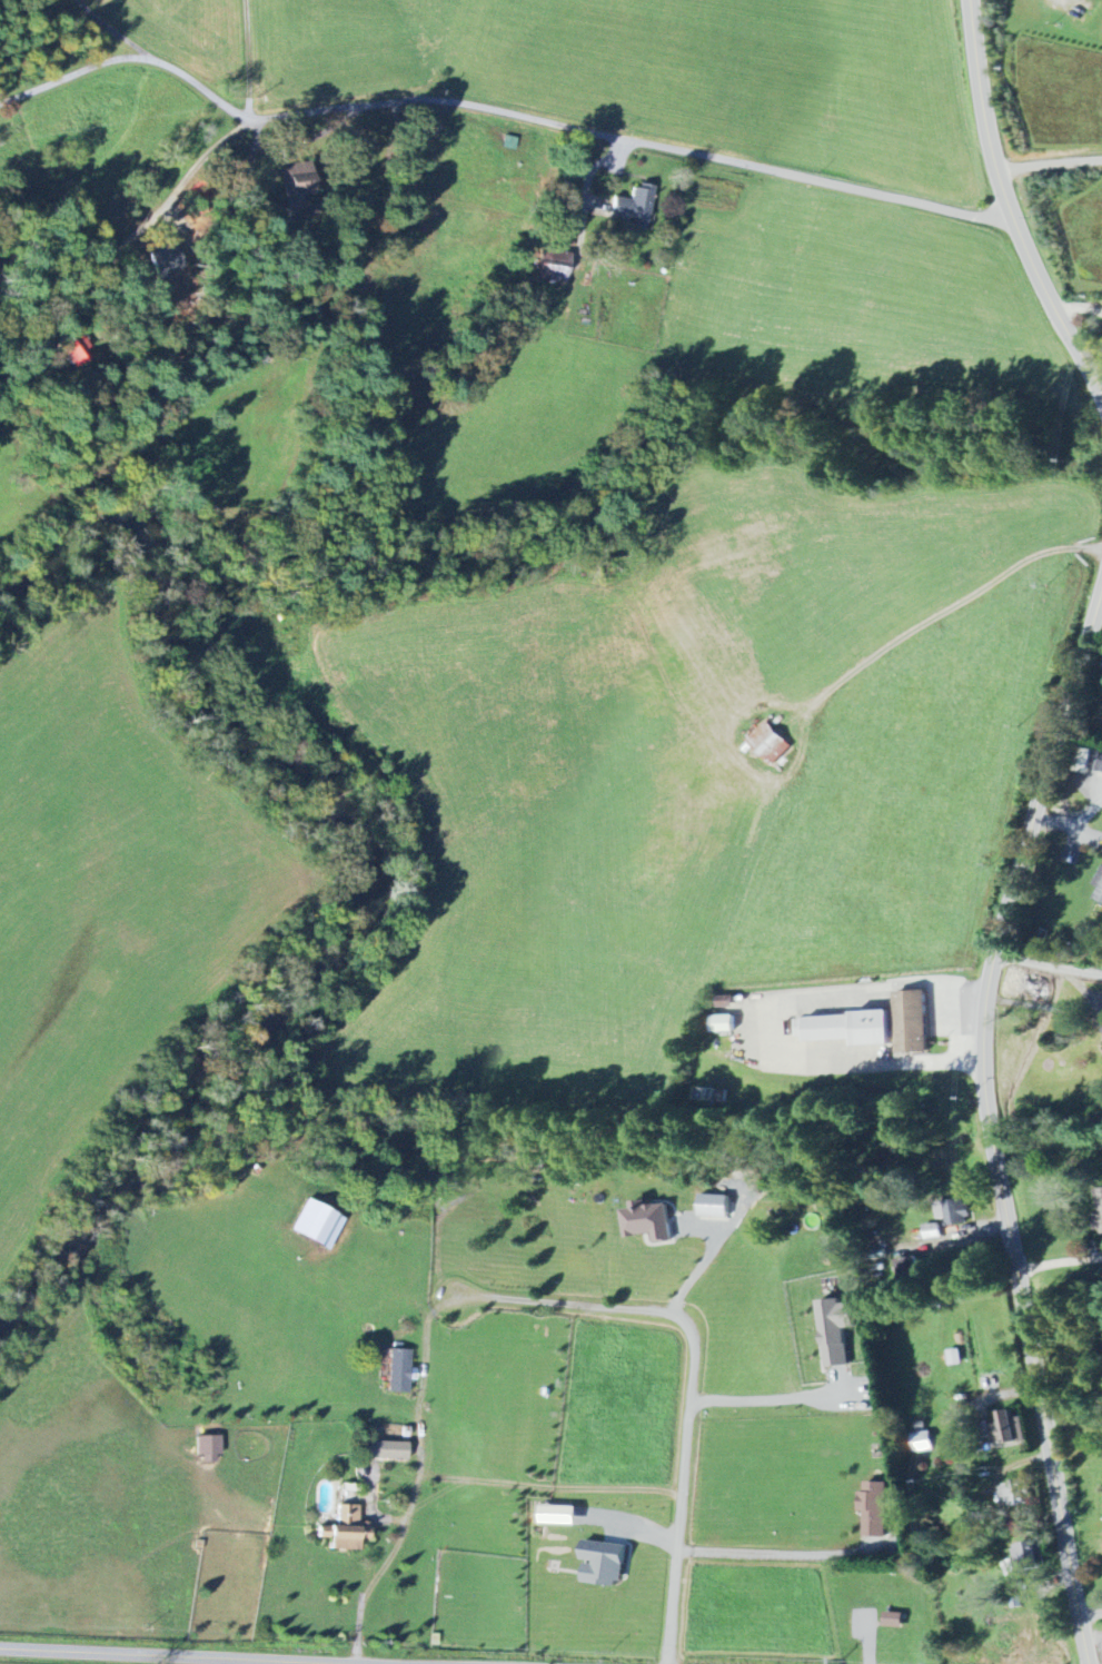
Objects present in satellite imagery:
road: (246, 58)
road: (497, 110)
road: (1048, 162)
building: (299, 182)
building: (635, 206)
road: (1007, 207)
road: (161, 209)
building: (168, 260)
building: (555, 267)
building: (79, 353)
road: (1098, 608)
building: (771, 743)
building: (1101, 767)
road: (1066, 823)
building: (1100, 881)
building: (1101, 897)
river: (341, 904)
road: (1048, 967)
building: (1015, 983)
building: (1041, 993)
building: (901, 1022)
building: (725, 1024)
building: (837, 1036)
road: (990, 1118)
building: (716, 1206)
building: (1100, 1206)
building: (959, 1215)
building: (649, 1222)
building: (319, 1225)
building: (933, 1232)
building: (911, 1271)
road: (683, 1319)
building: (837, 1331)
building: (955, 1358)
building: (401, 1371)
road: (766, 1399)
building: (1015, 1428)
building: (923, 1442)
building: (210, 1449)
building: (387, 1452)
building: (1015, 1495)
building: (876, 1509)
building: (563, 1516)
building: (345, 1531)
road: (403, 1535)
building: (1029, 1556)
building: (606, 1564)
road: (669, 1607)
road: (1089, 1614)
building: (896, 1621)
road: (219, 1655)

